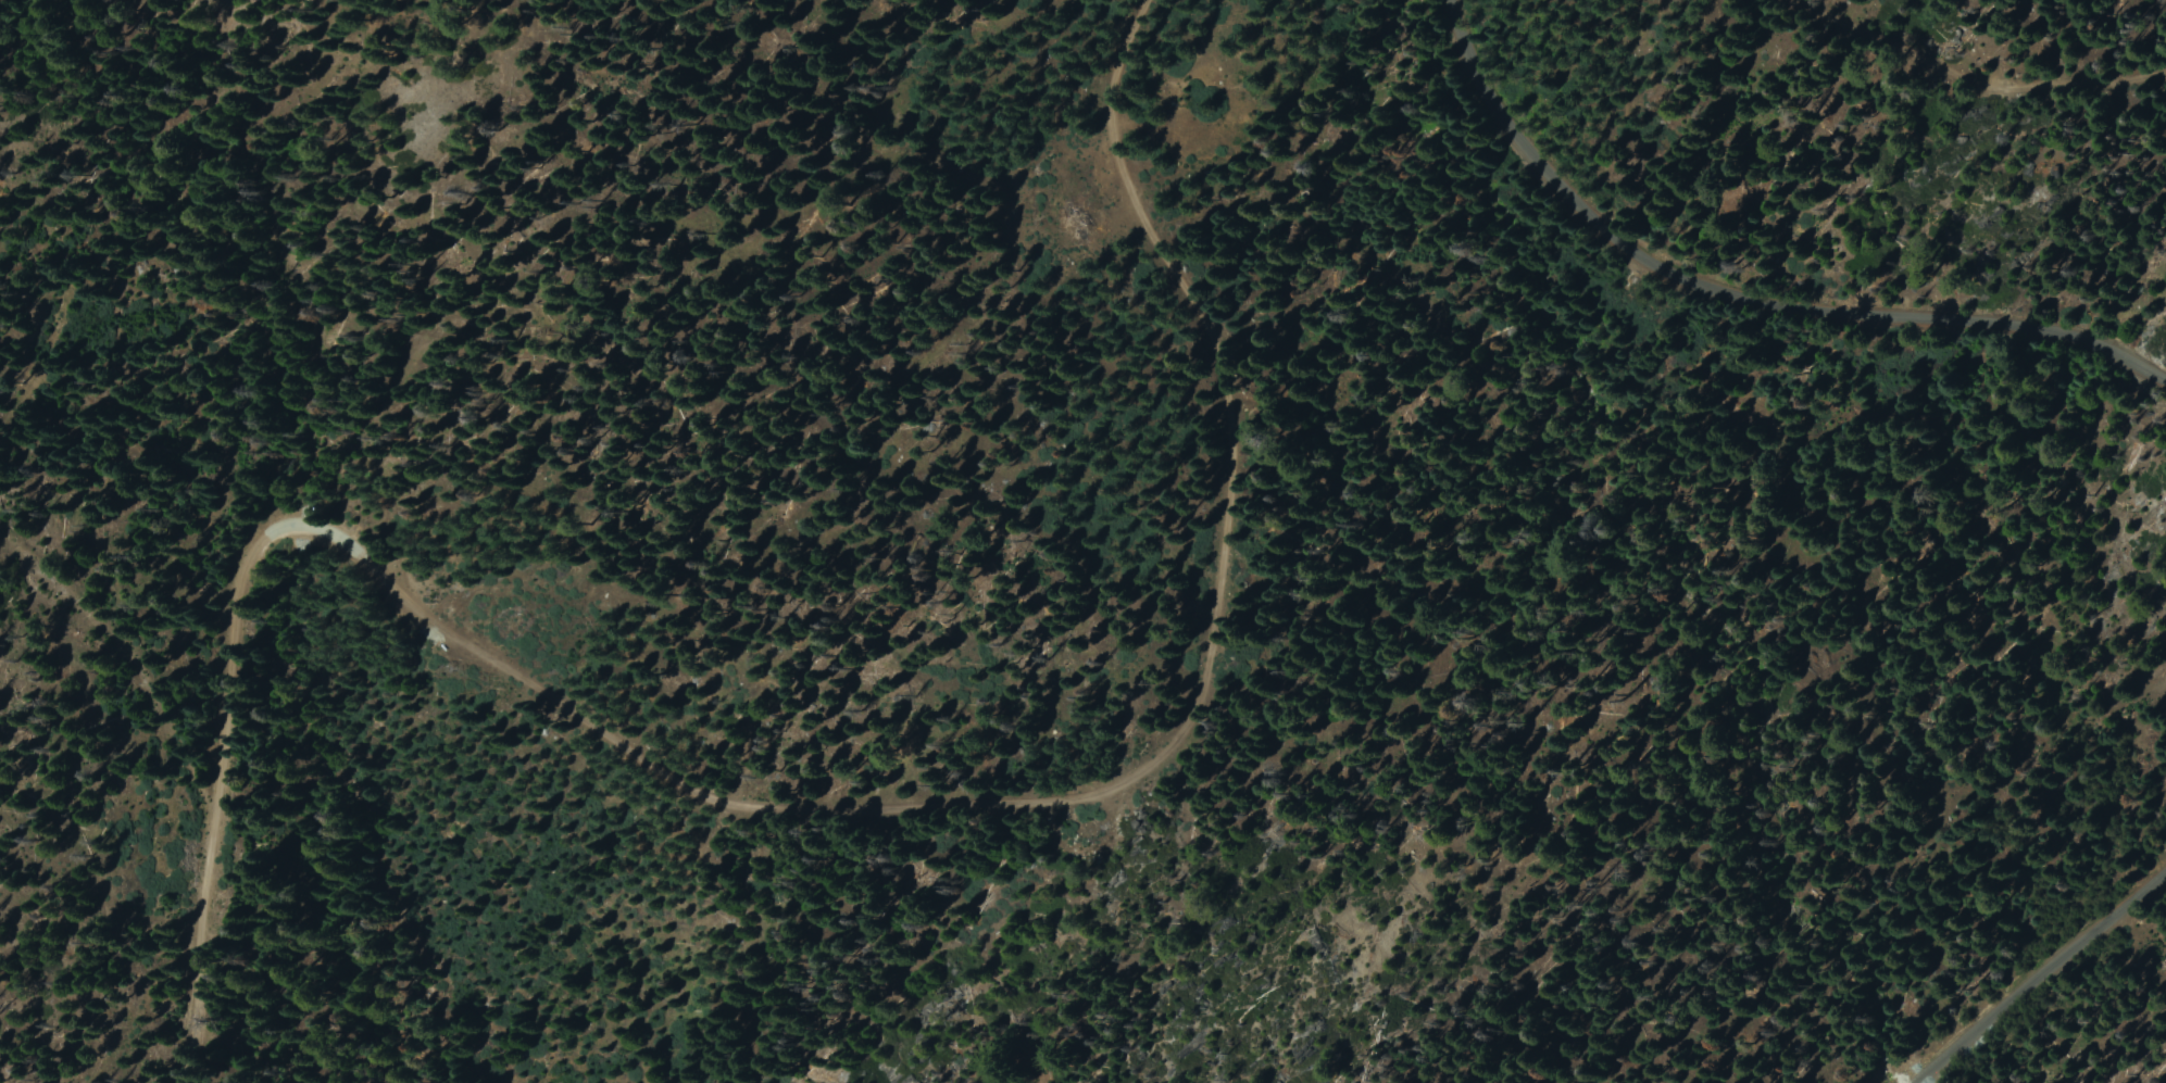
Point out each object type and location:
road: (1975, 77)
road: (1740, 298)
road: (801, 793)
road: (2036, 975)

